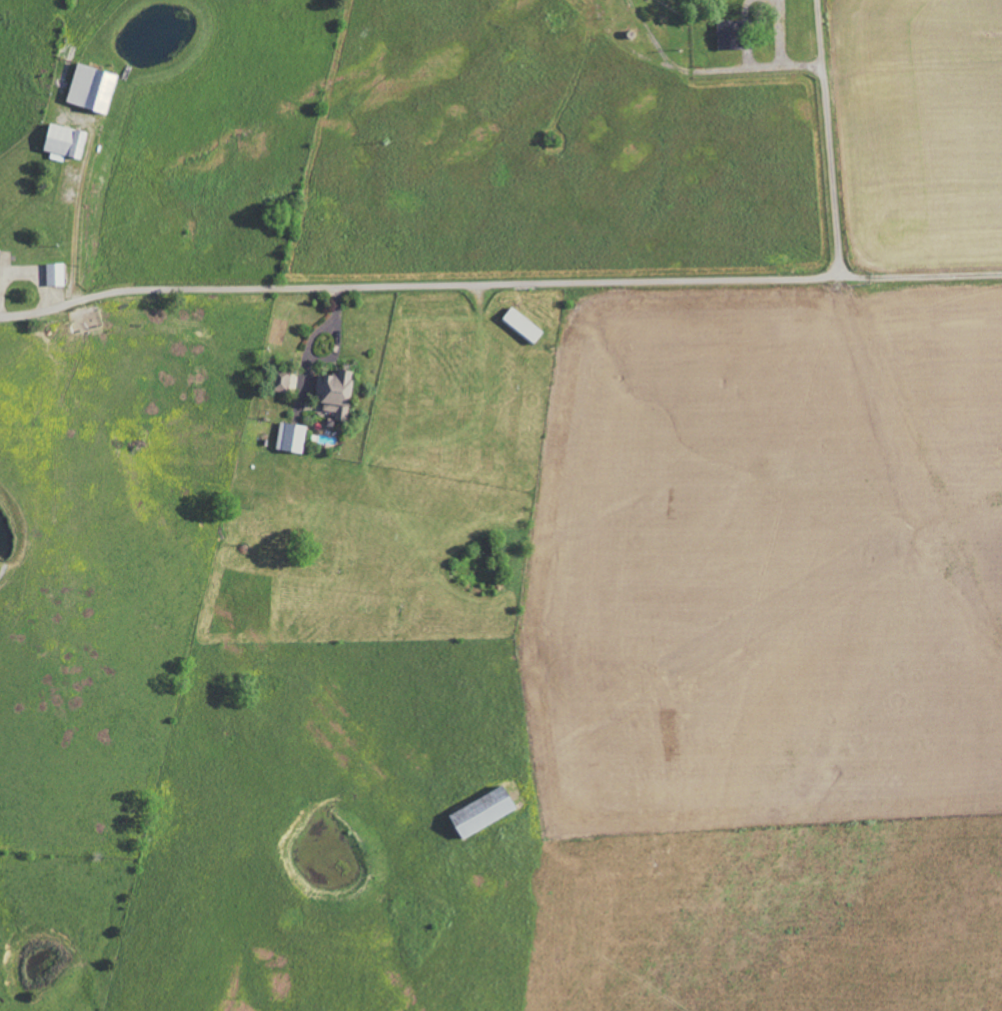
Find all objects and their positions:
building: (727, 35)
building: (90, 88)
building: (62, 142)
road: (79, 205)
road: (25, 271)
building: (54, 275)
road: (916, 275)
road: (552, 279)
road: (70, 289)
road: (307, 346)
building: (282, 381)
building: (334, 393)
building: (289, 438)
building: (480, 811)

